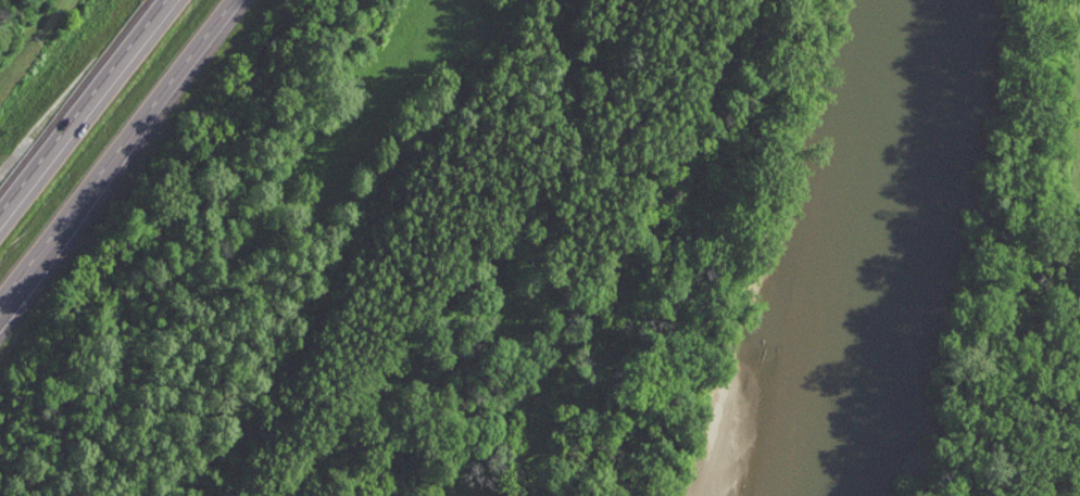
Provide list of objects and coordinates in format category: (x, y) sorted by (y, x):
road: (81, 111)
road: (133, 139)
river: (903, 249)
road: (13, 294)

